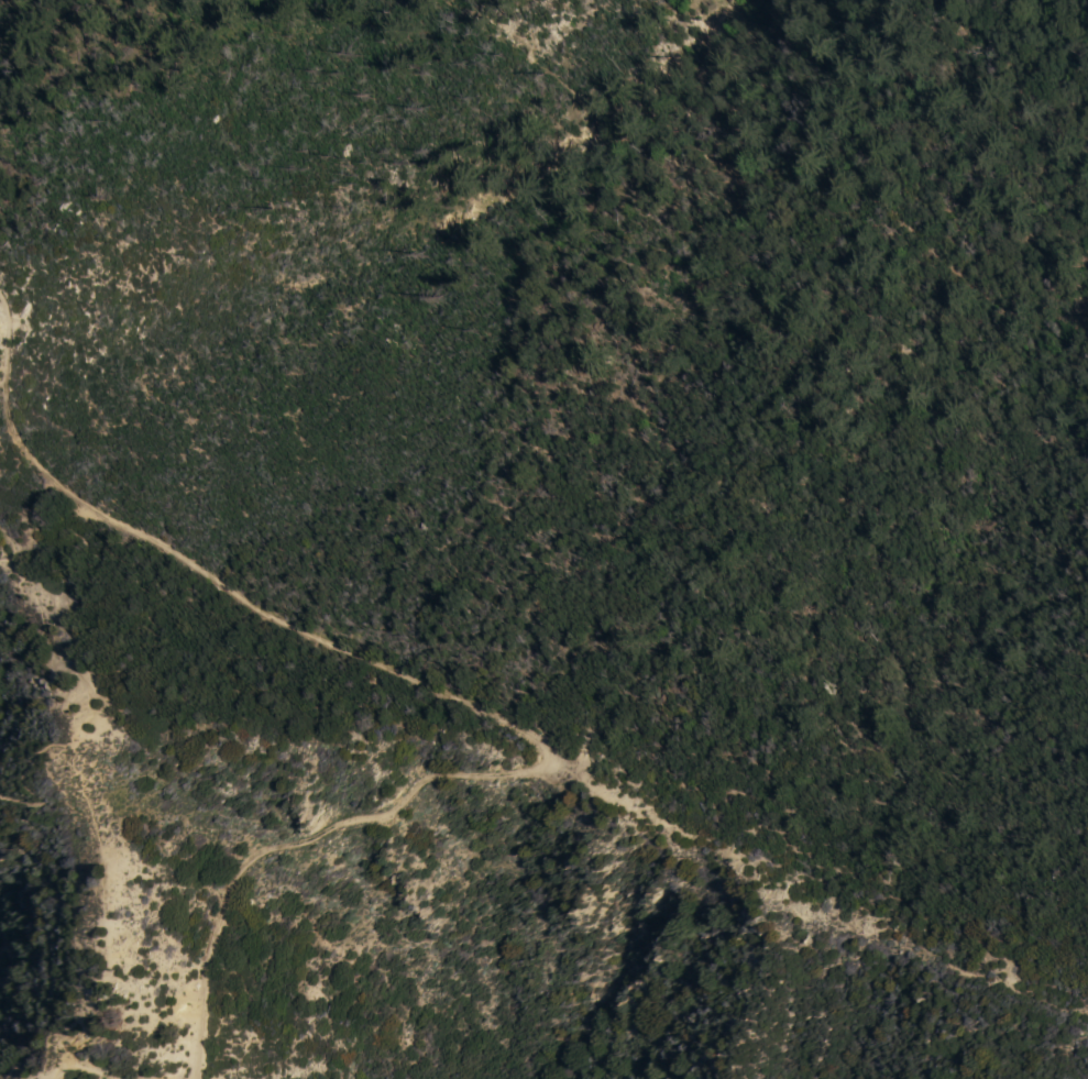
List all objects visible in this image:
road: (774, 169)
road: (7, 360)
road: (44, 616)
road: (465, 704)
road: (33, 777)
road: (106, 921)

